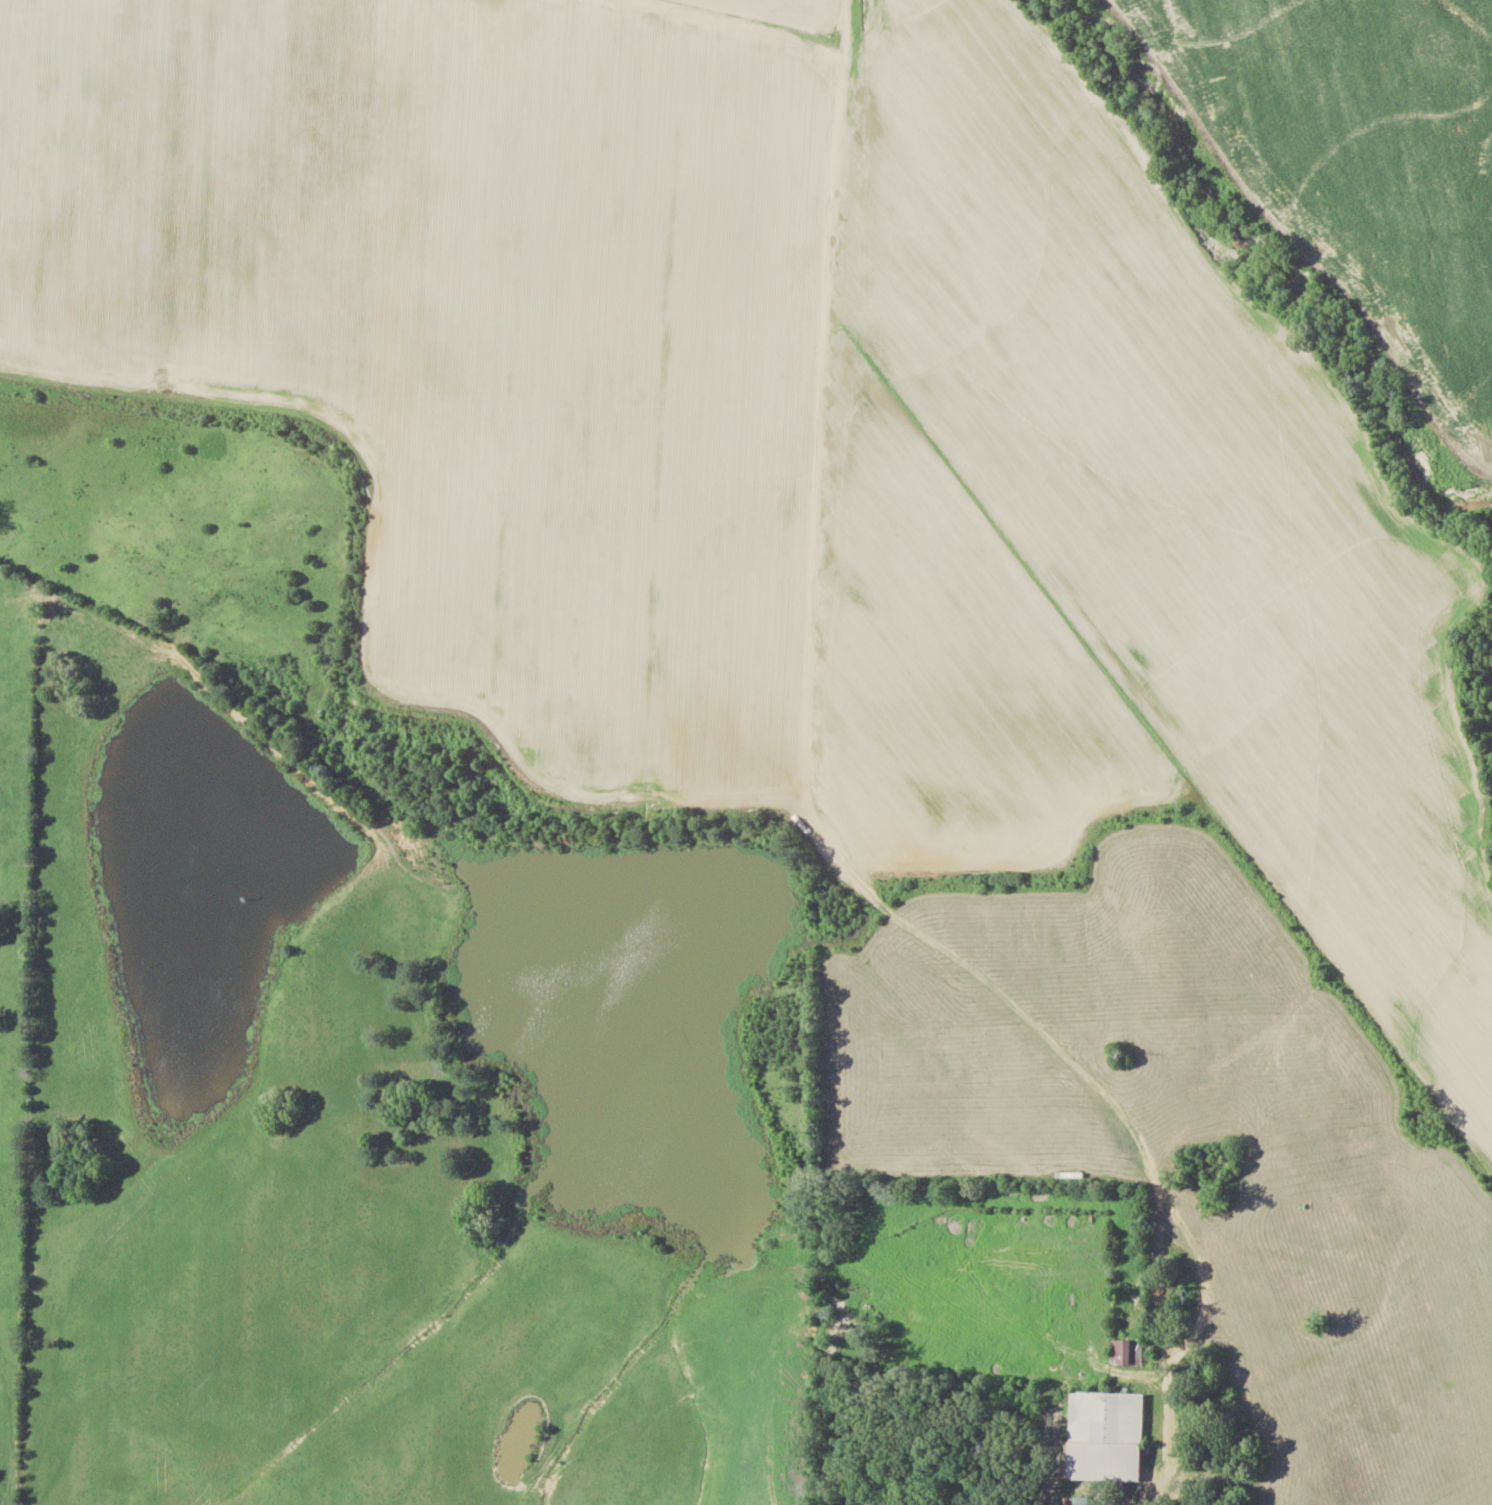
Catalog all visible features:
building: (1375, 121)
building: (1102, 1437)

